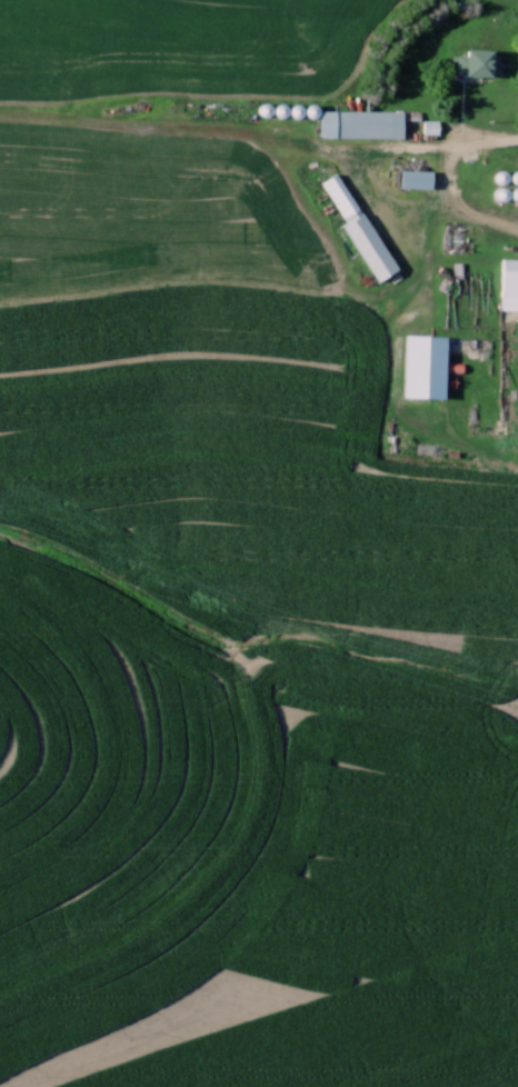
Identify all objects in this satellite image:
building: (474, 61)
building: (355, 122)
road: (486, 147)
building: (355, 228)
building: (507, 283)
building: (417, 365)

